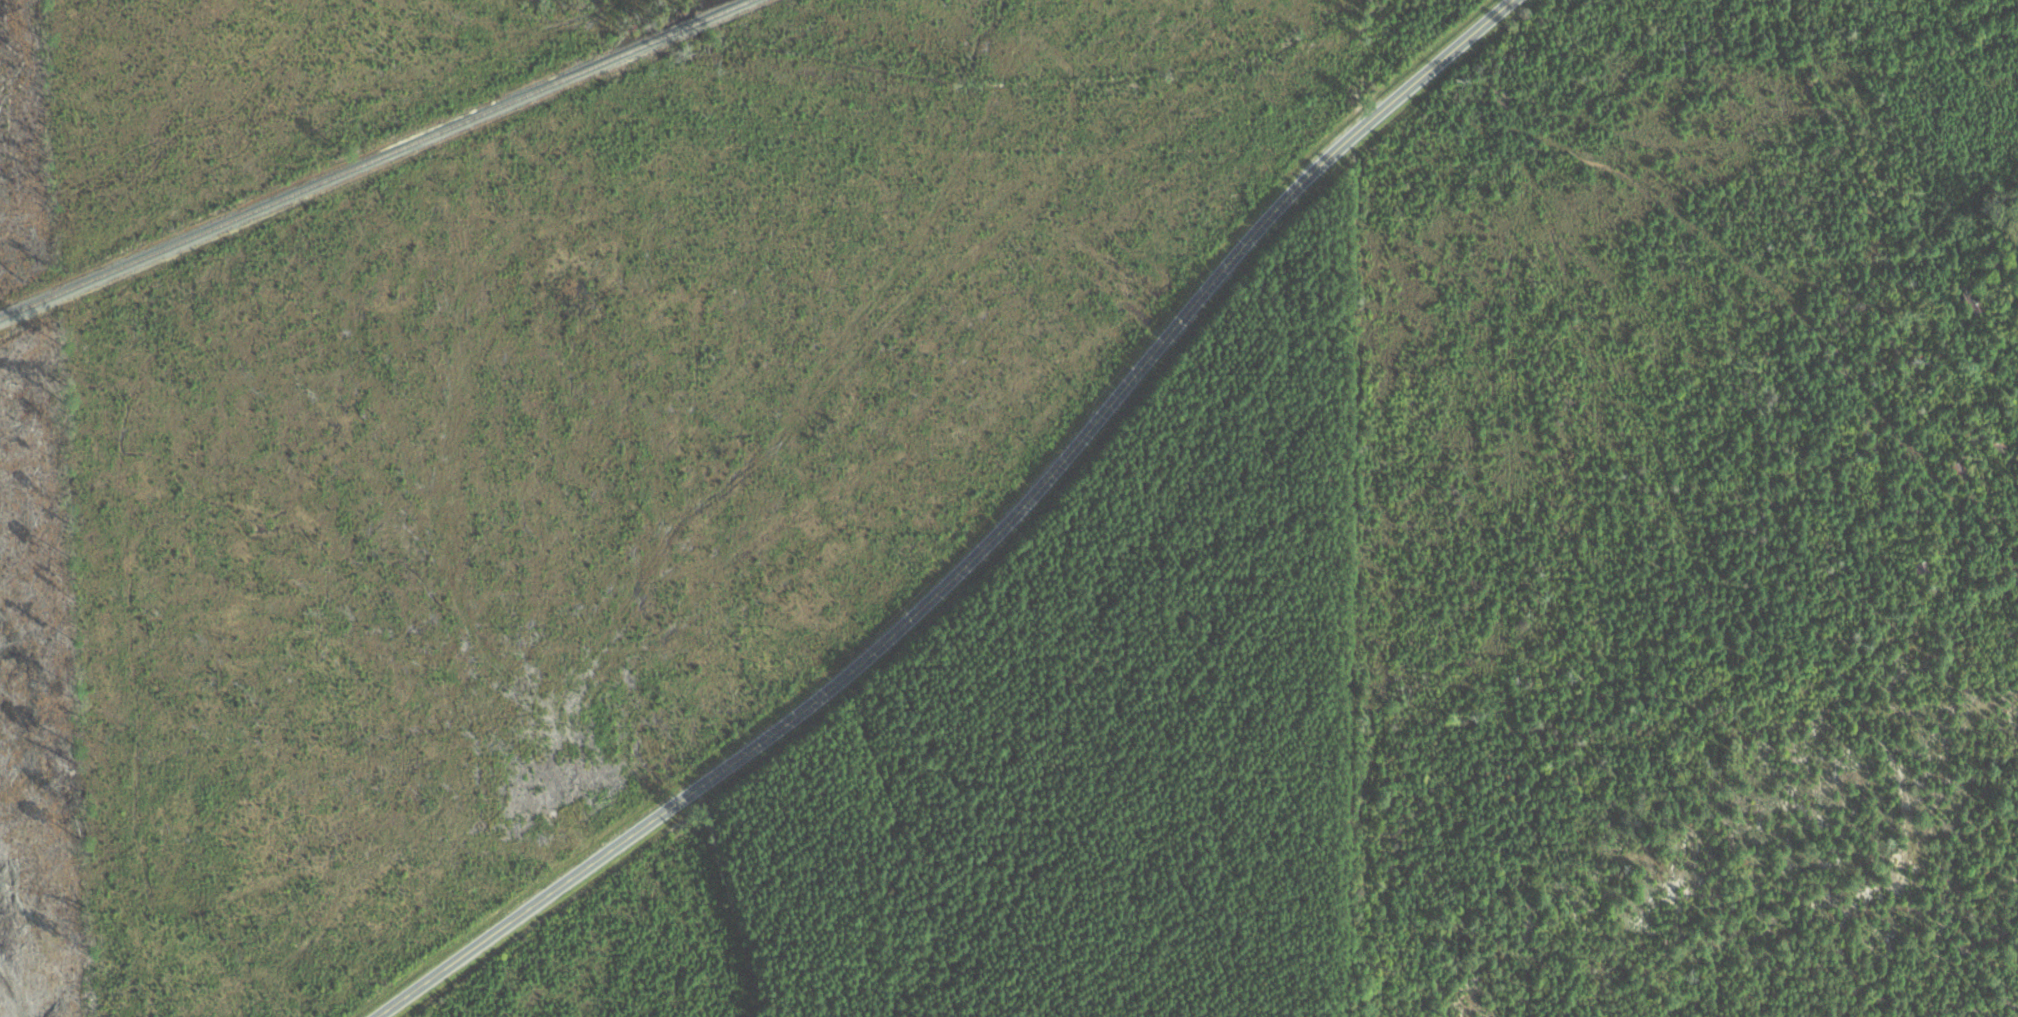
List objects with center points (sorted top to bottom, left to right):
railway: (385, 164)
road: (986, 553)

